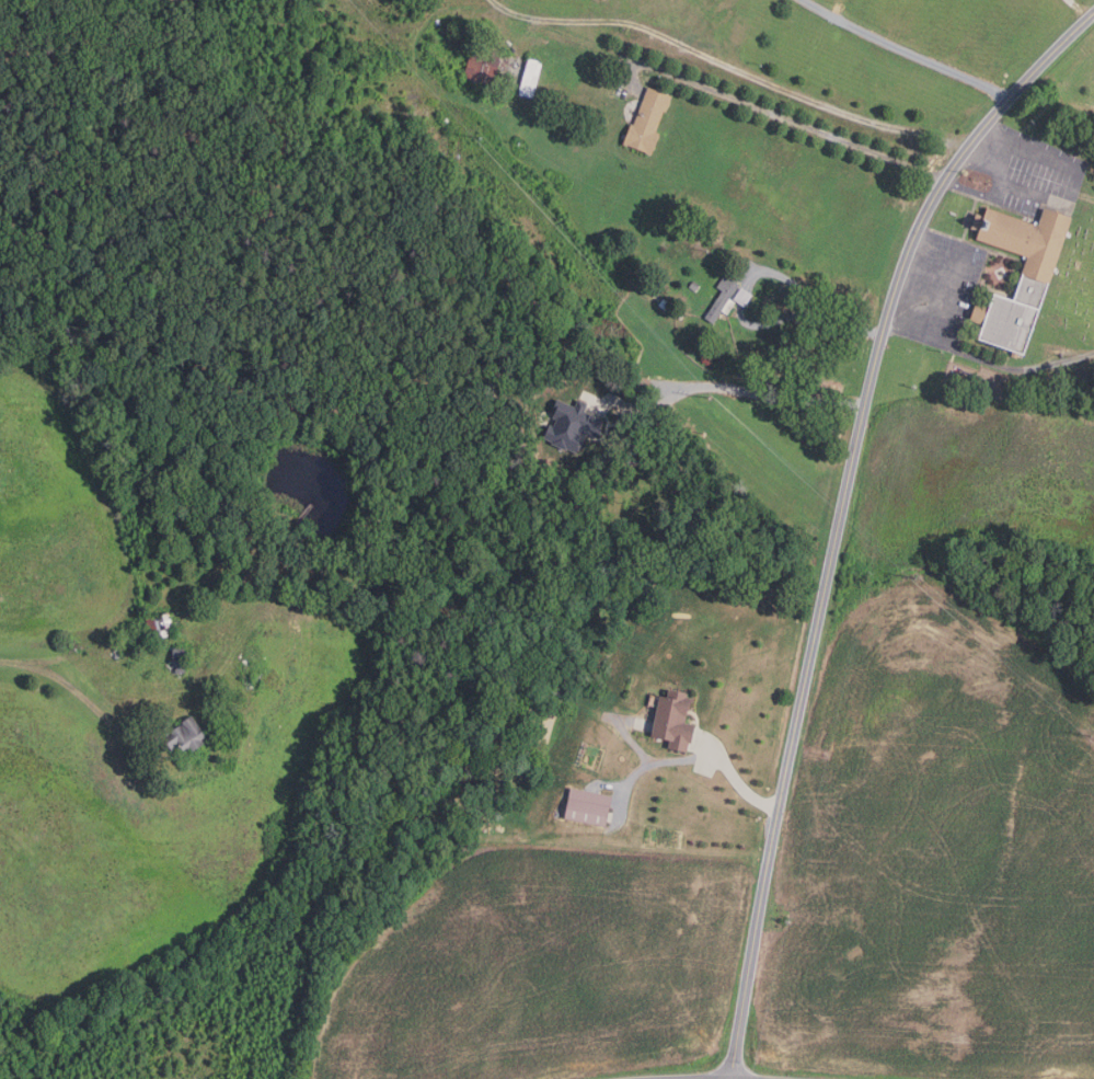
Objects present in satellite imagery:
road: (905, 49)
building: (484, 65)
road: (729, 69)
building: (530, 78)
road: (776, 114)
building: (647, 120)
power tower: (480, 138)
road: (979, 168)
road: (975, 191)
road: (1071, 193)
road: (1083, 194)
building: (1036, 275)
building: (694, 286)
park: (1072, 290)
parking lot: (940, 292)
building: (722, 297)
building: (741, 297)
road: (810, 298)
building: (668, 308)
road: (988, 359)
building: (1084, 378)
road: (751, 393)
power tower: (710, 398)
road: (841, 514)
power tower: (915, 581)
building: (160, 627)
building: (116, 654)
building: (179, 661)
road: (69, 686)
building: (672, 719)
power tower: (1089, 732)
building: (185, 735)
road: (738, 781)
building: (587, 806)

